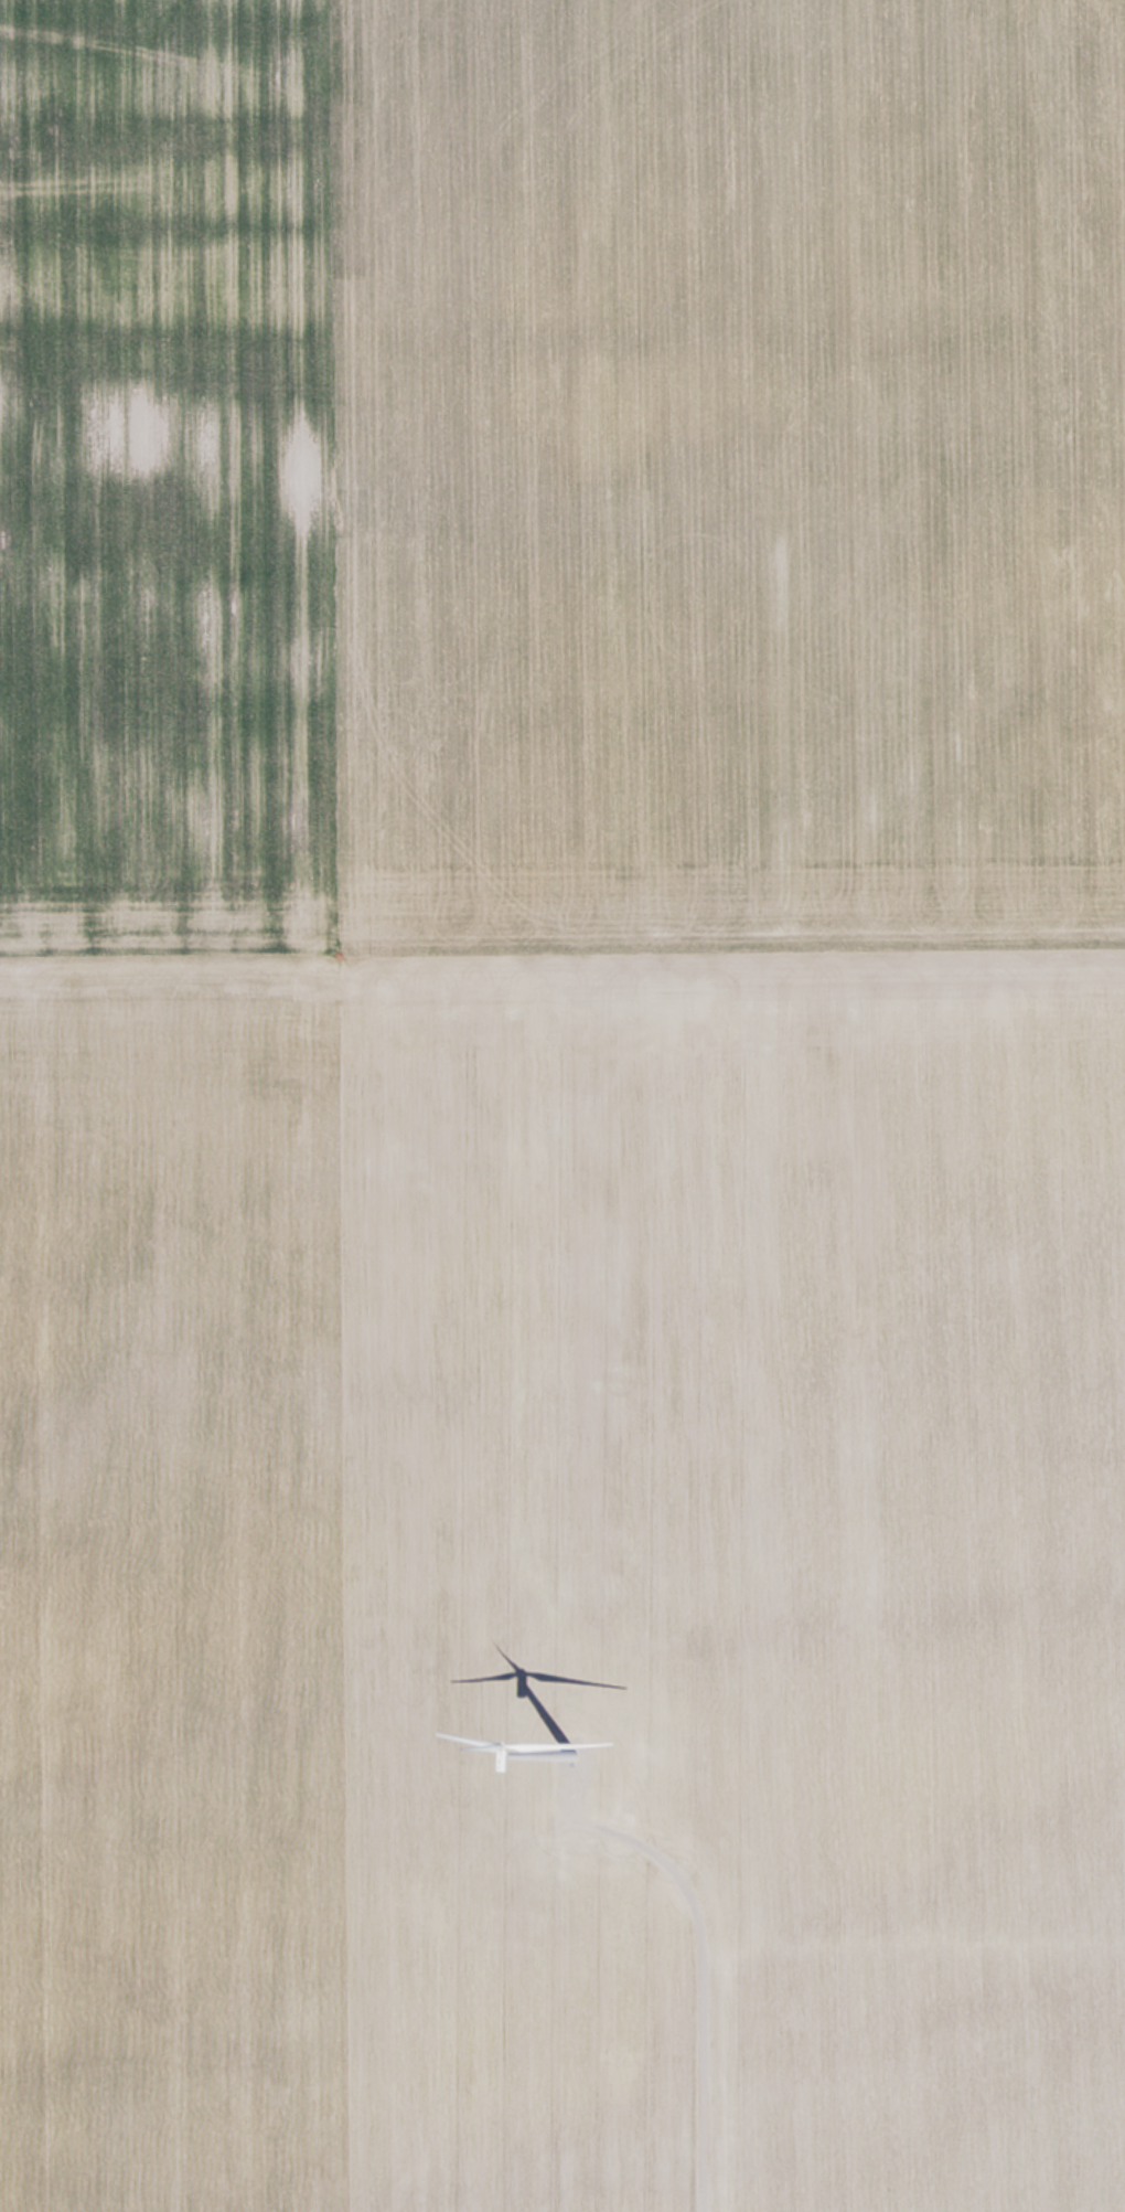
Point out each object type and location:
wind turbine: (561, 1729)
road: (703, 1967)

